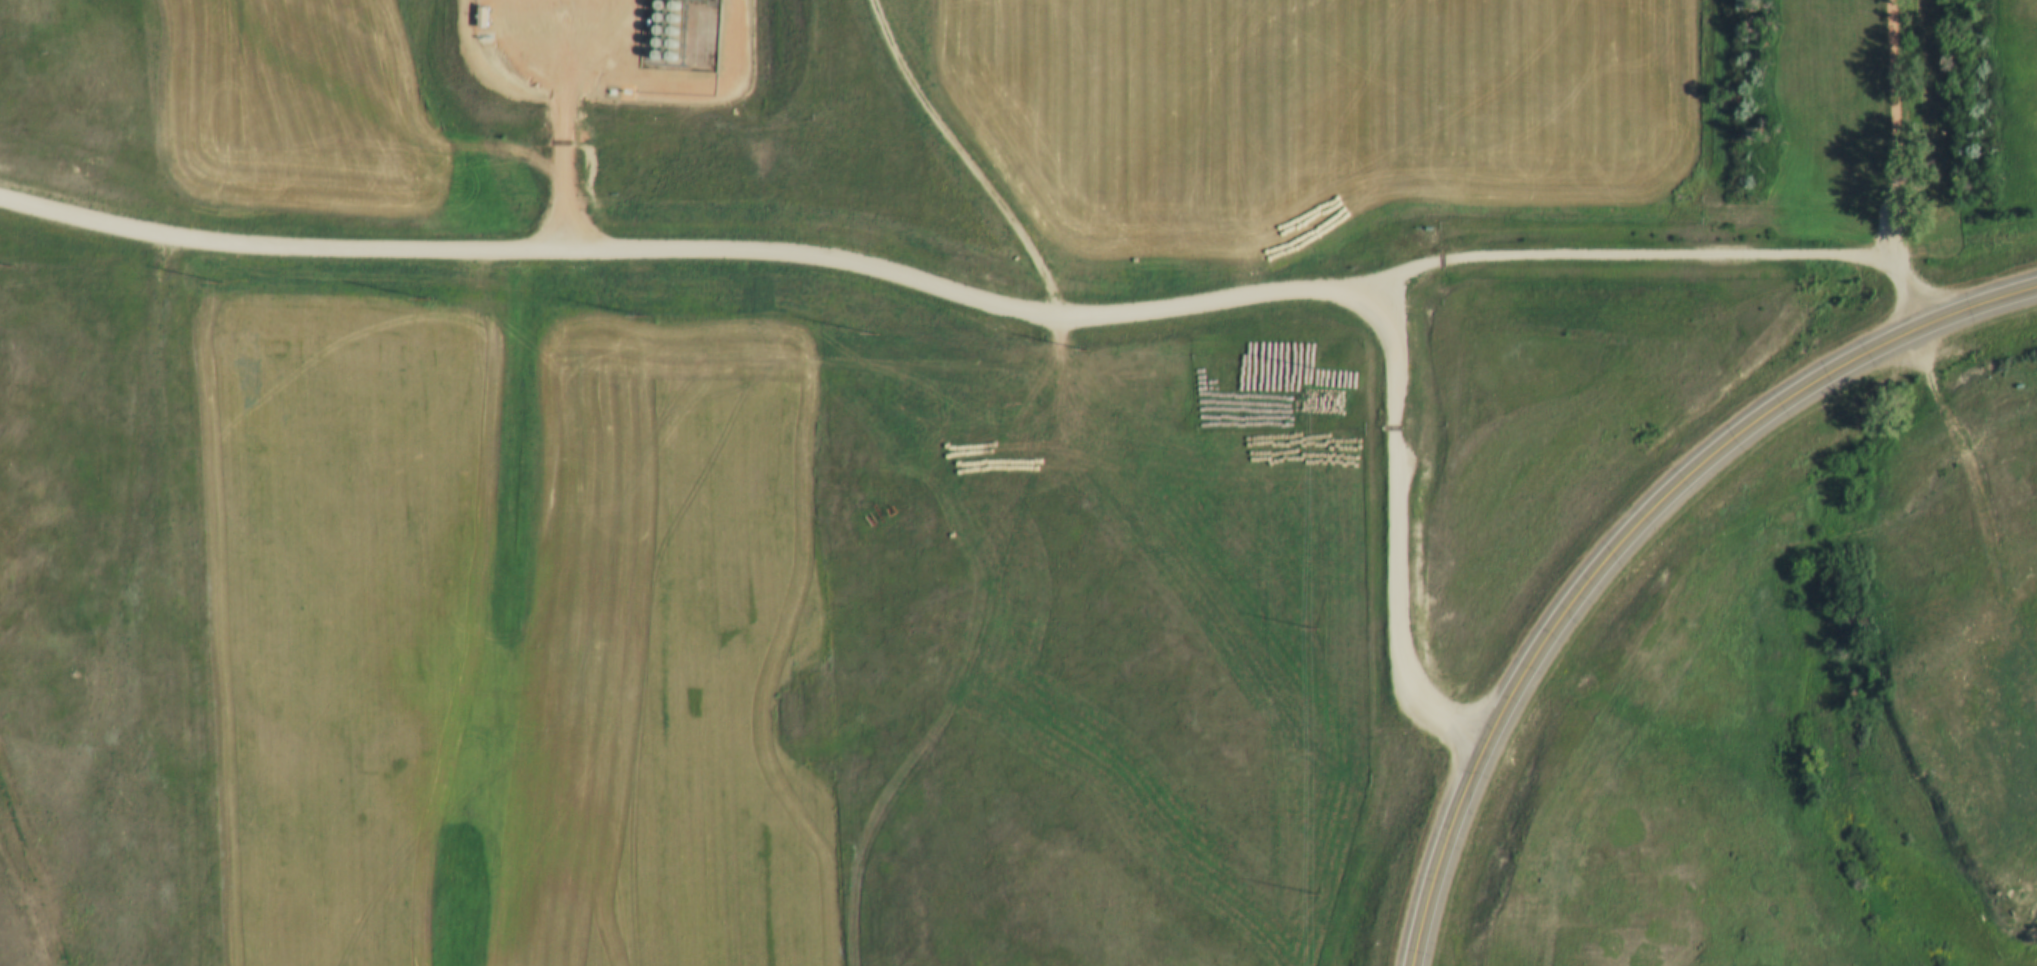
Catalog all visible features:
road: (491, 133)
road: (1899, 166)
road: (1634, 255)
road: (961, 296)
road: (1624, 534)

